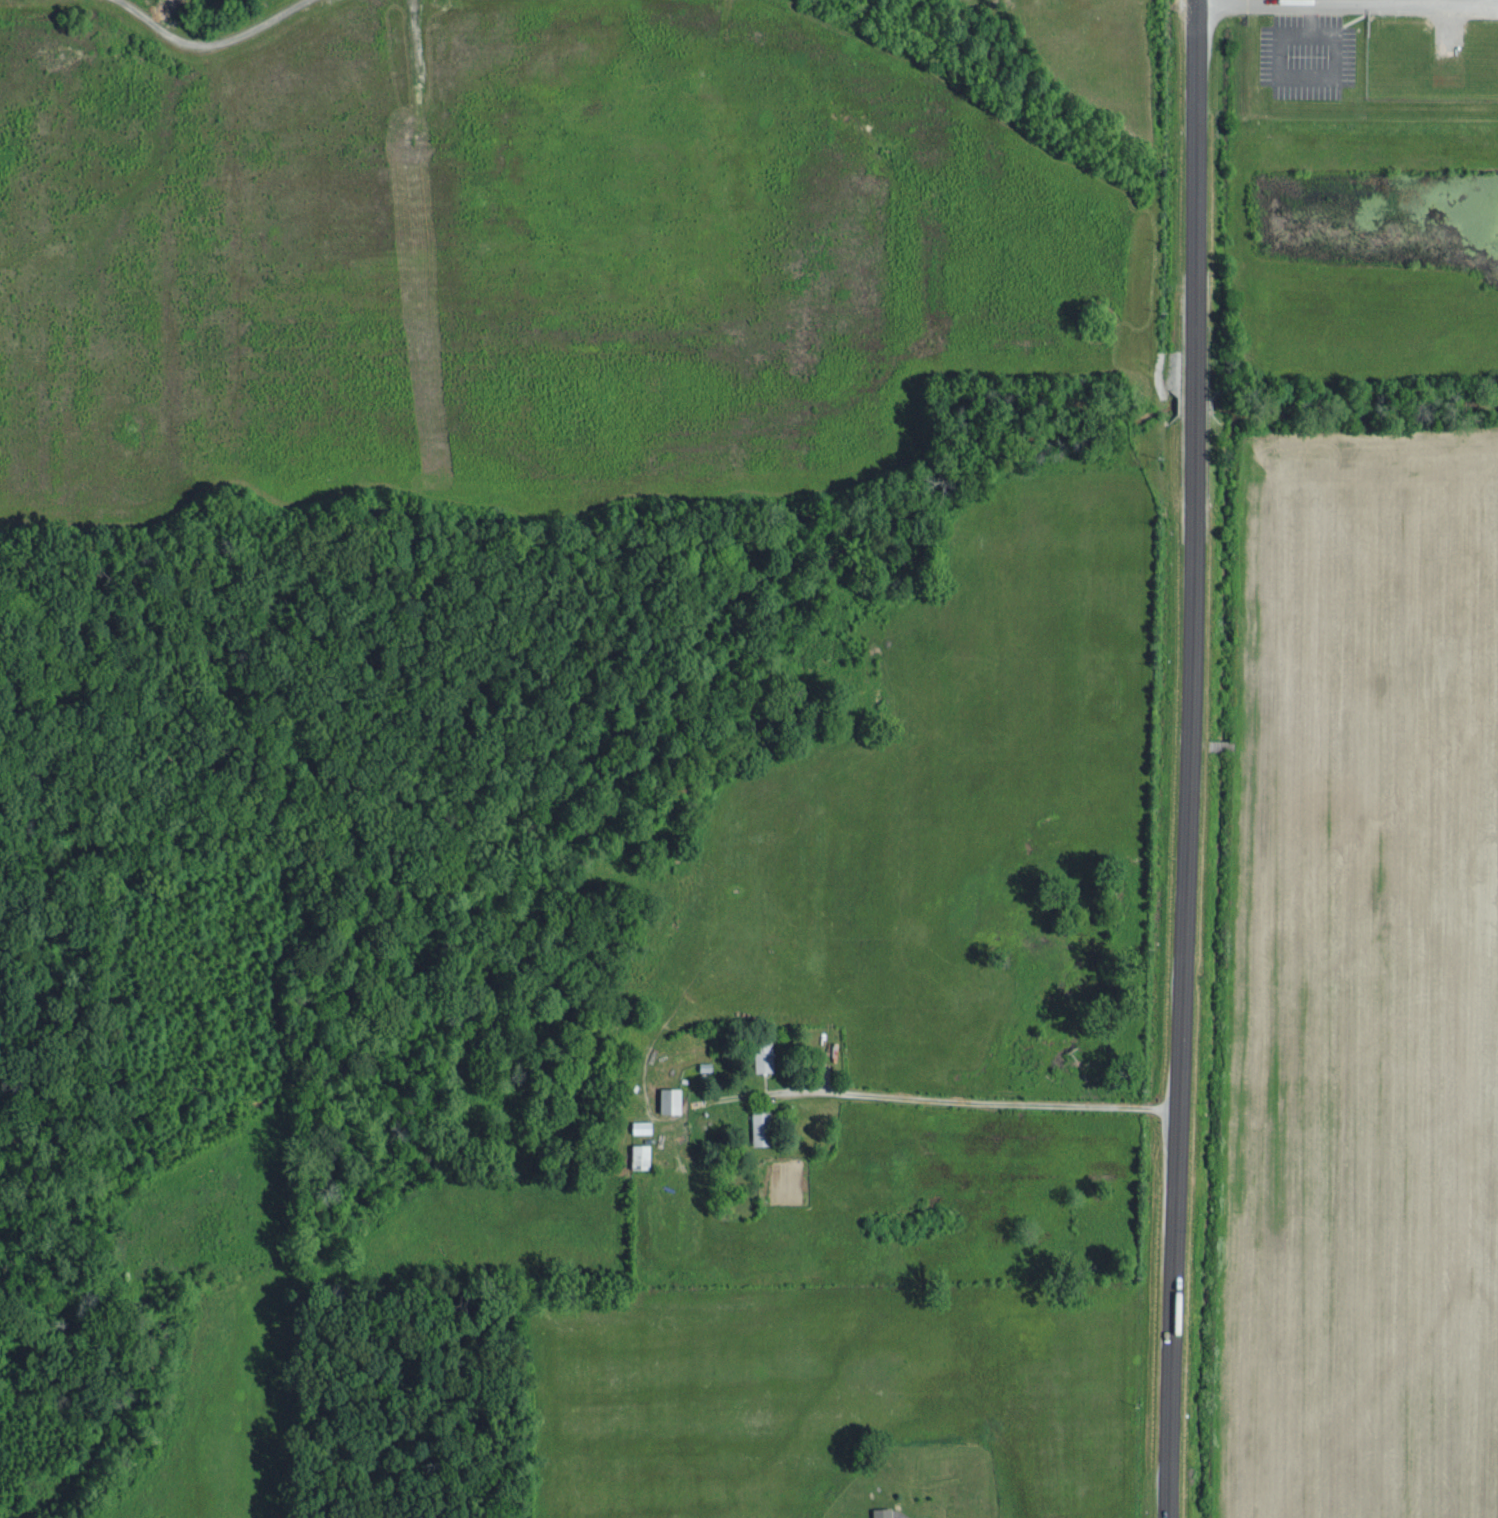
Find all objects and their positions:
road: (1250, 8)
road: (1185, 759)
building: (765, 1057)
building: (671, 1099)
road: (999, 1102)
building: (761, 1126)
building: (641, 1155)
building: (883, 1511)

